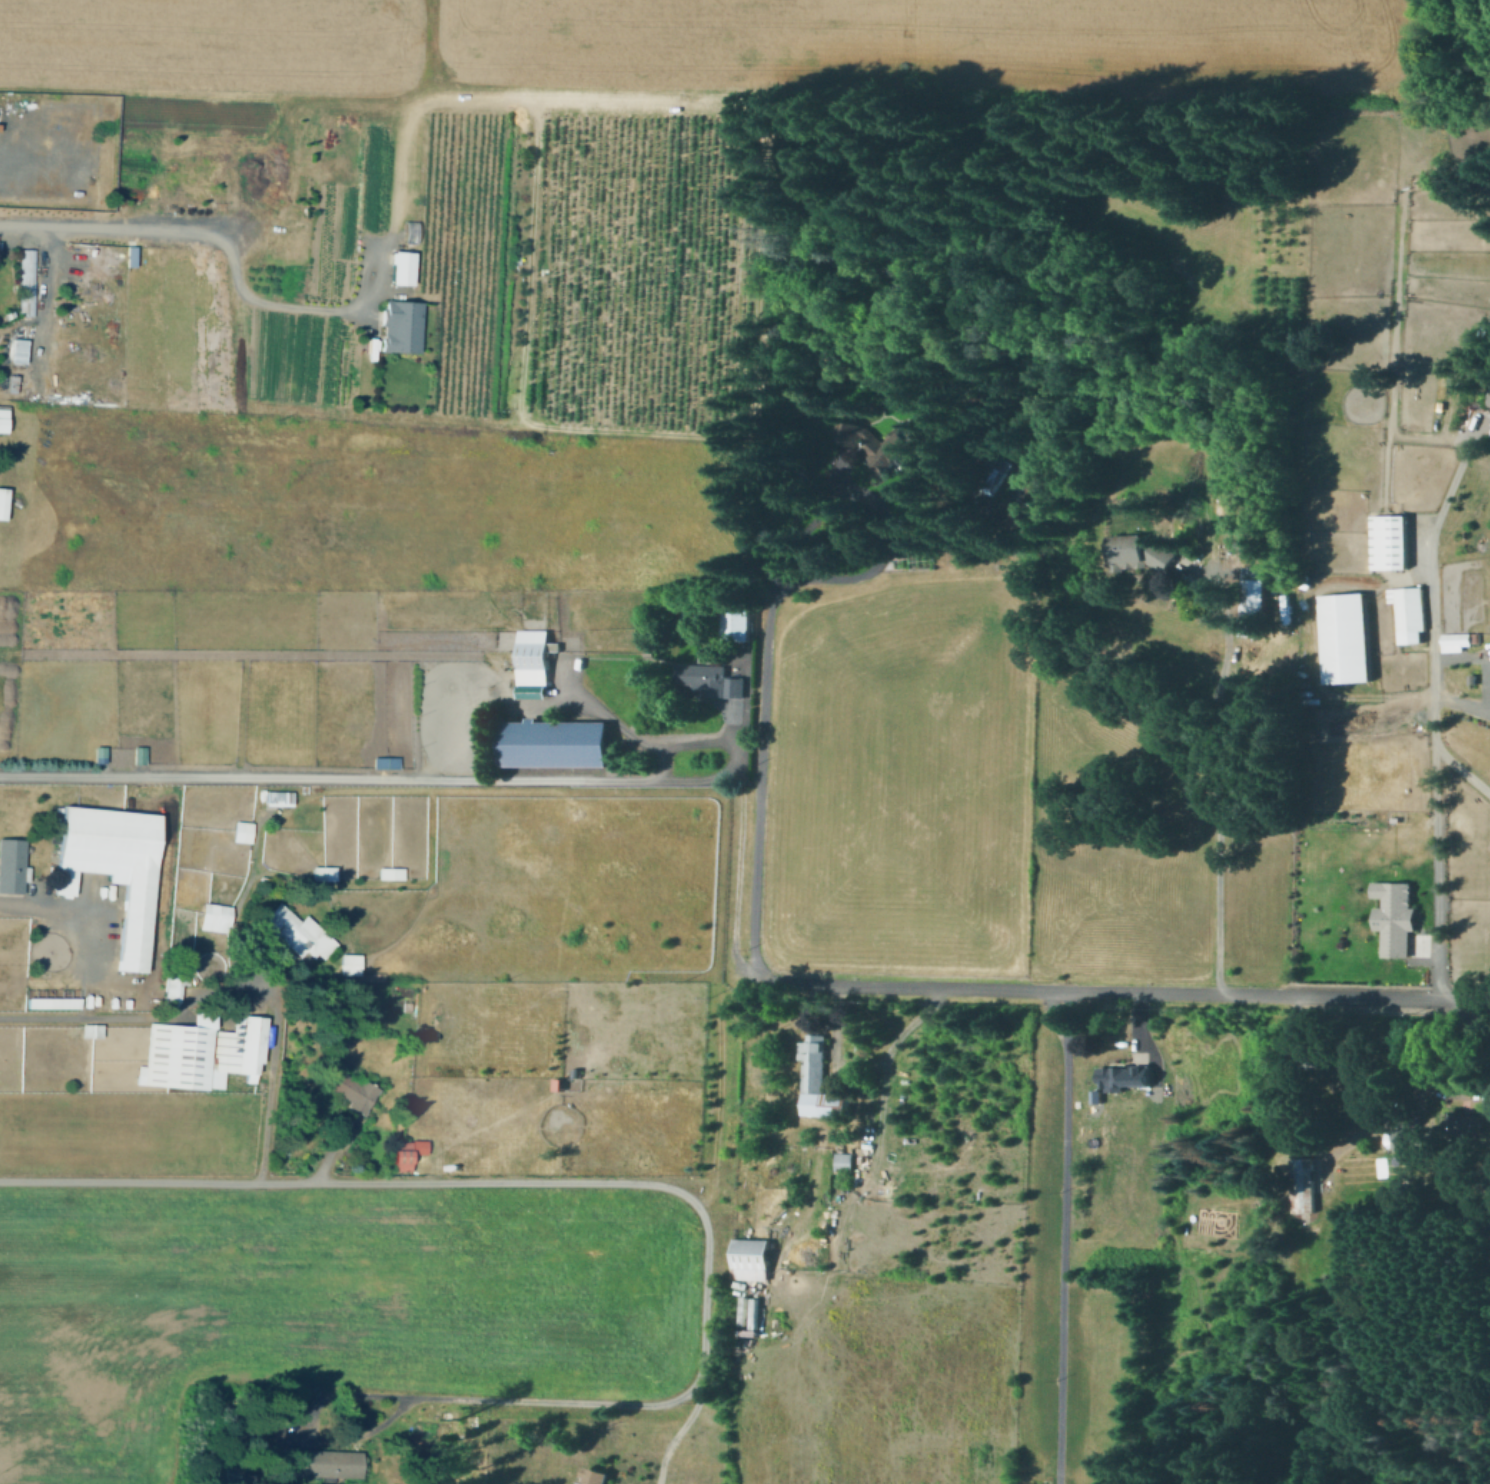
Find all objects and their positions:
crop: (223, 43)
crop: (945, 45)
building: (4, 122)
road: (536, 142)
building: (129, 255)
road: (232, 260)
building: (400, 266)
building: (26, 285)
road: (43, 291)
building: (400, 325)
road: (1392, 352)
building: (18, 355)
building: (12, 387)
building: (1488, 399)
building: (1489, 406)
road: (440, 418)
building: (2, 423)
road: (222, 439)
building: (903, 443)
road: (1386, 468)
road: (560, 469)
building: (1001, 473)
road: (1214, 500)
building: (3, 504)
crop: (372, 507)
building: (1024, 511)
road: (945, 521)
building: (1391, 546)
building: (1143, 551)
building: (1258, 590)
road: (1431, 603)
building: (697, 619)
building: (1412, 619)
building: (739, 623)
road: (1313, 638)
building: (1455, 640)
building: (1347, 643)
road: (1462, 655)
building: (536, 658)
road: (765, 678)
building: (711, 679)
road: (1455, 698)
road: (603, 712)
road: (734, 741)
building: (557, 744)
building: (102, 751)
building: (142, 752)
building: (397, 758)
building: (384, 761)
road: (1215, 764)
road: (329, 776)
building: (276, 797)
building: (241, 830)
building: (248, 836)
building: (13, 866)
building: (111, 867)
building: (393, 872)
road: (1437, 872)
building: (326, 873)
building: (1392, 916)
building: (217, 917)
road: (86, 931)
building: (302, 936)
building: (352, 965)
building: (173, 990)
road: (1128, 990)
building: (52, 1001)
road: (182, 1008)
building: (92, 1030)
road: (835, 1036)
road: (1139, 1040)
building: (202, 1057)
building: (1117, 1076)
building: (820, 1079)
building: (349, 1088)
road: (1356, 1089)
building: (1468, 1130)
road: (265, 1133)
building: (1407, 1138)
road: (328, 1150)
building: (401, 1158)
building: (845, 1162)
road: (658, 1185)
building: (1304, 1189)
road: (1062, 1236)
building: (749, 1259)
crop: (327, 1304)
road: (679, 1429)
building: (268, 1435)
building: (326, 1464)
building: (227, 1474)
building: (597, 1477)

